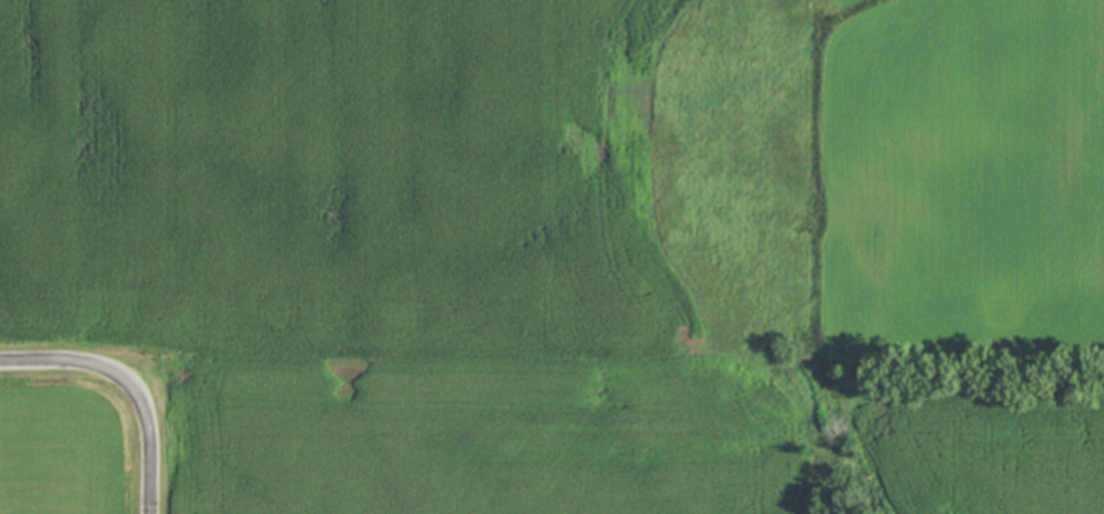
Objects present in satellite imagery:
road: (129, 384)

